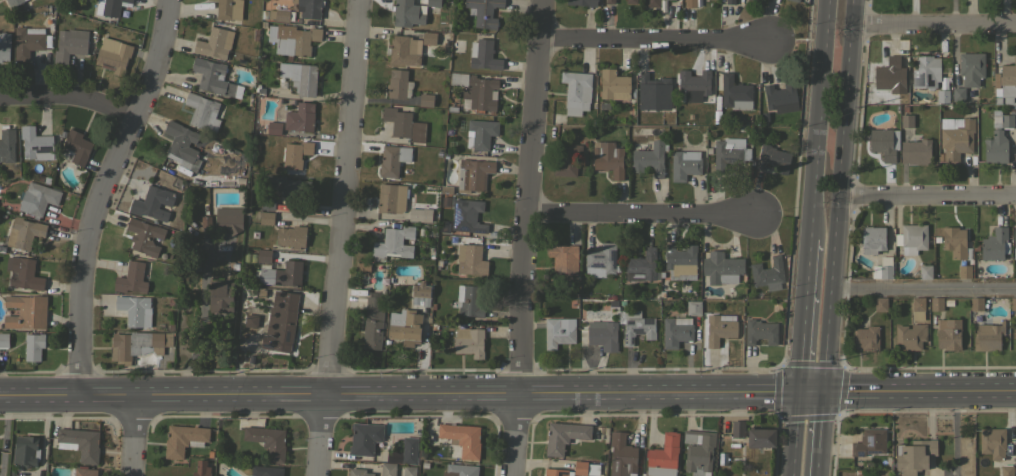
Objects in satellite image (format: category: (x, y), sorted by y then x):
building: (795, 0)
building: (609, 1)
building: (631, 1)
building: (13, 2)
building: (582, 2)
building: (730, 2)
building: (433, 3)
building: (653, 3)
building: (690, 3)
building: (109, 7)
building: (309, 8)
building: (229, 9)
building: (483, 12)
building: (408, 13)
building: (281, 15)
road: (934, 23)
building: (429, 38)
building: (293, 39)
road: (651, 39)
building: (29, 41)
building: (214, 43)
building: (70, 44)
building: (4, 46)
building: (403, 50)
building: (483, 54)
building: (113, 55)
building: (971, 68)
building: (926, 72)
building: (890, 75)
building: (212, 76)
building: (300, 77)
building: (995, 80)
building: (1007, 80)
building: (398, 84)
building: (614, 84)
building: (694, 85)
building: (476, 91)
building: (576, 91)
building: (653, 92)
building: (735, 93)
building: (958, 94)
building: (971, 95)
building: (942, 96)
road: (69, 97)
building: (781, 97)
building: (426, 100)
building: (1006, 100)
building: (996, 101)
building: (904, 109)
building: (1015, 109)
building: (202, 111)
building: (300, 117)
road: (816, 119)
building: (995, 119)
building: (907, 120)
building: (1007, 120)
building: (403, 124)
building: (273, 127)
building: (480, 133)
building: (956, 139)
building: (181, 142)
building: (35, 143)
building: (882, 143)
building: (7, 144)
rooftop solar panel: (33, 146)
building: (75, 147)
building: (995, 148)
rooftop solar panel: (43, 149)
building: (915, 151)
building: (295, 153)
building: (729, 153)
rooftop solar panel: (26, 154)
building: (567, 158)
building: (608, 158)
building: (773, 158)
building: (392, 159)
building: (649, 159)
building: (219, 164)
building: (684, 164)
building: (472, 174)
building: (289, 185)
road: (101, 193)
road: (840, 196)
road: (928, 197)
building: (38, 198)
building: (390, 198)
road: (529, 198)
building: (153, 203)
building: (267, 203)
road: (638, 211)
rooftop solar panel: (457, 213)
building: (415, 214)
building: (467, 215)
building: (266, 217)
building: (229, 219)
rooftop solar panel: (464, 227)
rooftop solar panel: (479, 230)
building: (24, 233)
building: (144, 236)
building: (291, 236)
road: (337, 238)
building: (911, 238)
building: (872, 239)
building: (395, 242)
building: (955, 242)
building: (1014, 242)
building: (995, 244)
building: (264, 255)
building: (563, 259)
building: (601, 260)
building: (473, 261)
building: (680, 262)
building: (641, 266)
building: (720, 268)
building: (885, 271)
building: (964, 271)
building: (925, 272)
building: (280, 273)
building: (25, 274)
building: (767, 274)
building: (131, 278)
road: (925, 287)
building: (421, 293)
building: (221, 295)
building: (468, 300)
building: (880, 303)
building: (936, 303)
building: (976, 303)
building: (1013, 303)
building: (693, 307)
building: (918, 308)
building: (135, 310)
building: (25, 311)
road: (802, 316)
building: (284, 319)
building: (373, 320)
building: (635, 325)
building: (406, 327)
building: (1015, 327)
building: (719, 328)
building: (559, 331)
building: (676, 331)
building: (760, 331)
building: (948, 333)
building: (602, 334)
building: (909, 336)
building: (988, 336)
building: (866, 337)
building: (4, 339)
building: (1014, 339)
building: (469, 341)
building: (137, 345)
building: (33, 346)
traffic signals: (826, 393)
road: (921, 393)
traffic signals: (797, 394)
road: (413, 395)
building: (737, 428)
road: (791, 434)
road: (821, 434)
road: (954, 434)
road: (135, 435)
road: (514, 436)
building: (563, 436)
building: (365, 437)
building: (761, 437)
building: (462, 438)
building: (183, 439)
building: (267, 441)
building: (869, 442)
building: (993, 442)
building: (80, 443)
building: (25, 450)
building: (698, 451)
building: (405, 452)
building: (621, 455)
building: (914, 455)
building: (663, 456)
building: (201, 468)
building: (388, 469)
building: (575, 469)
building: (266, 470)
building: (409, 470)
building: (460, 470)
building: (1006, 470)
building: (85, 471)
building: (358, 472)

